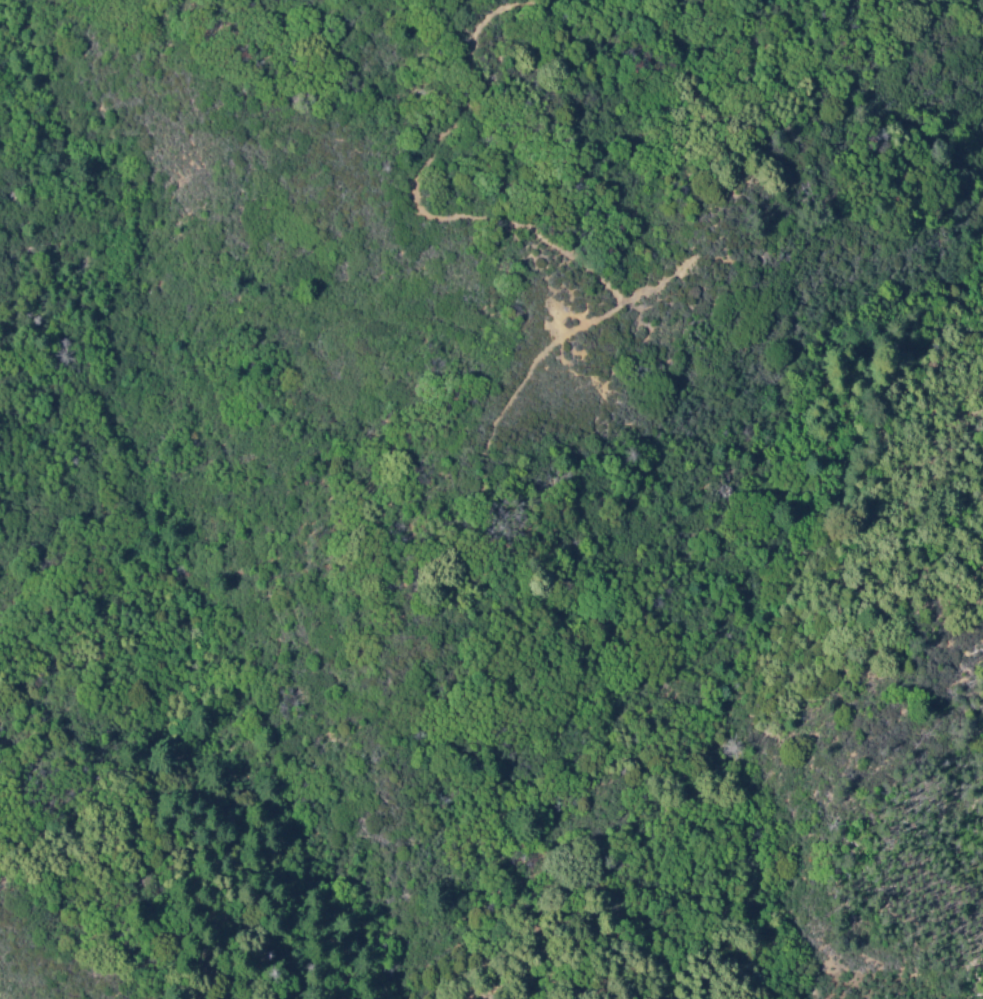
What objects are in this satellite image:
road: (779, 607)

